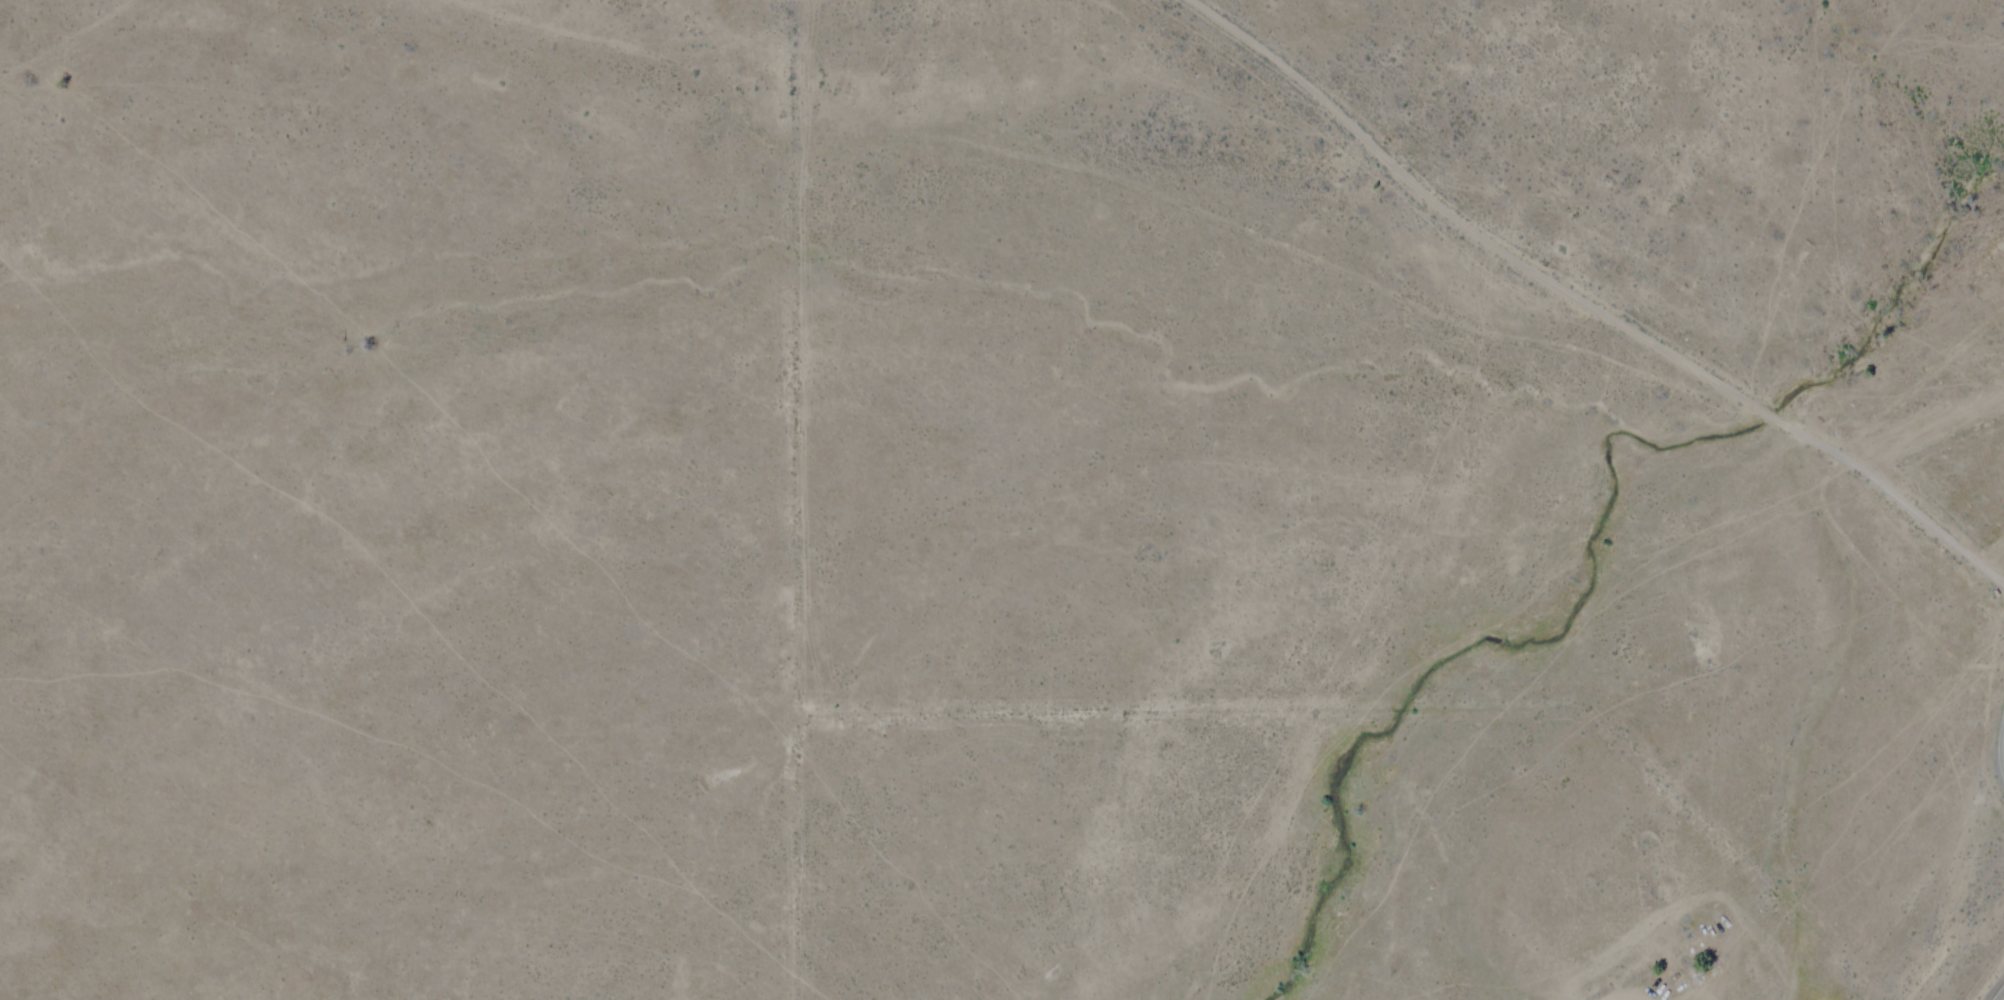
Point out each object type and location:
road: (2001, 996)

